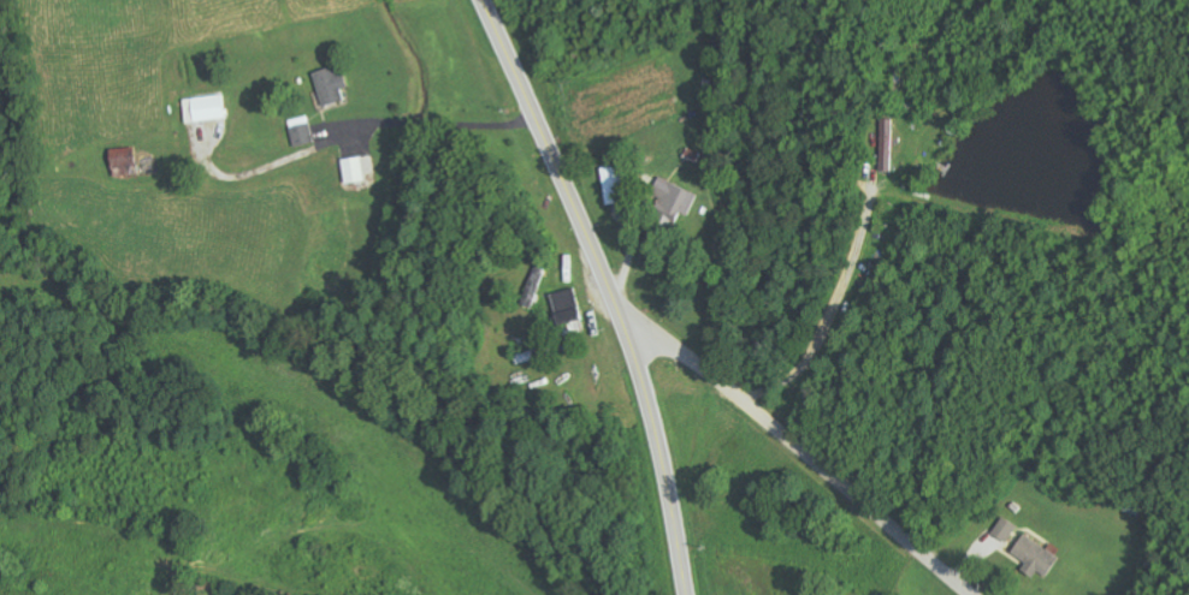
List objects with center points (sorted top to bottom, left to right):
building: (330, 85)
building: (203, 108)
building: (301, 130)
building: (886, 144)
building: (123, 159)
building: (351, 169)
building: (615, 184)
building: (672, 201)
road: (609, 288)
building: (566, 311)
building: (532, 339)
road: (794, 446)
building: (1004, 529)
building: (1034, 557)
park: (214, 587)

